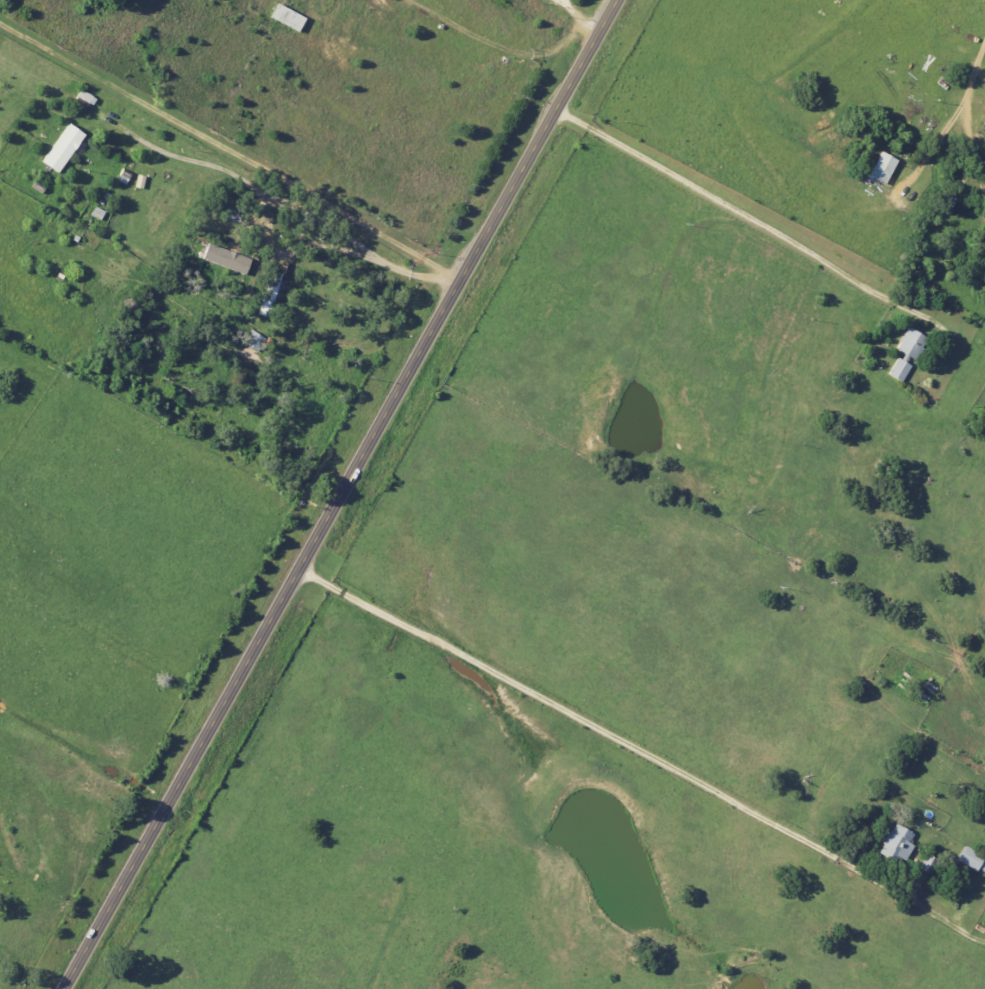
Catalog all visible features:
road: (565, 8)
building: (285, 18)
road: (589, 21)
road: (498, 44)
road: (953, 112)
building: (61, 147)
road: (229, 153)
building: (881, 167)
building: (97, 213)
road: (745, 219)
building: (224, 258)
building: (269, 293)
building: (255, 341)
building: (910, 343)
building: (898, 369)
road: (338, 494)
road: (615, 737)
building: (895, 844)
building: (971, 859)
building: (926, 863)

